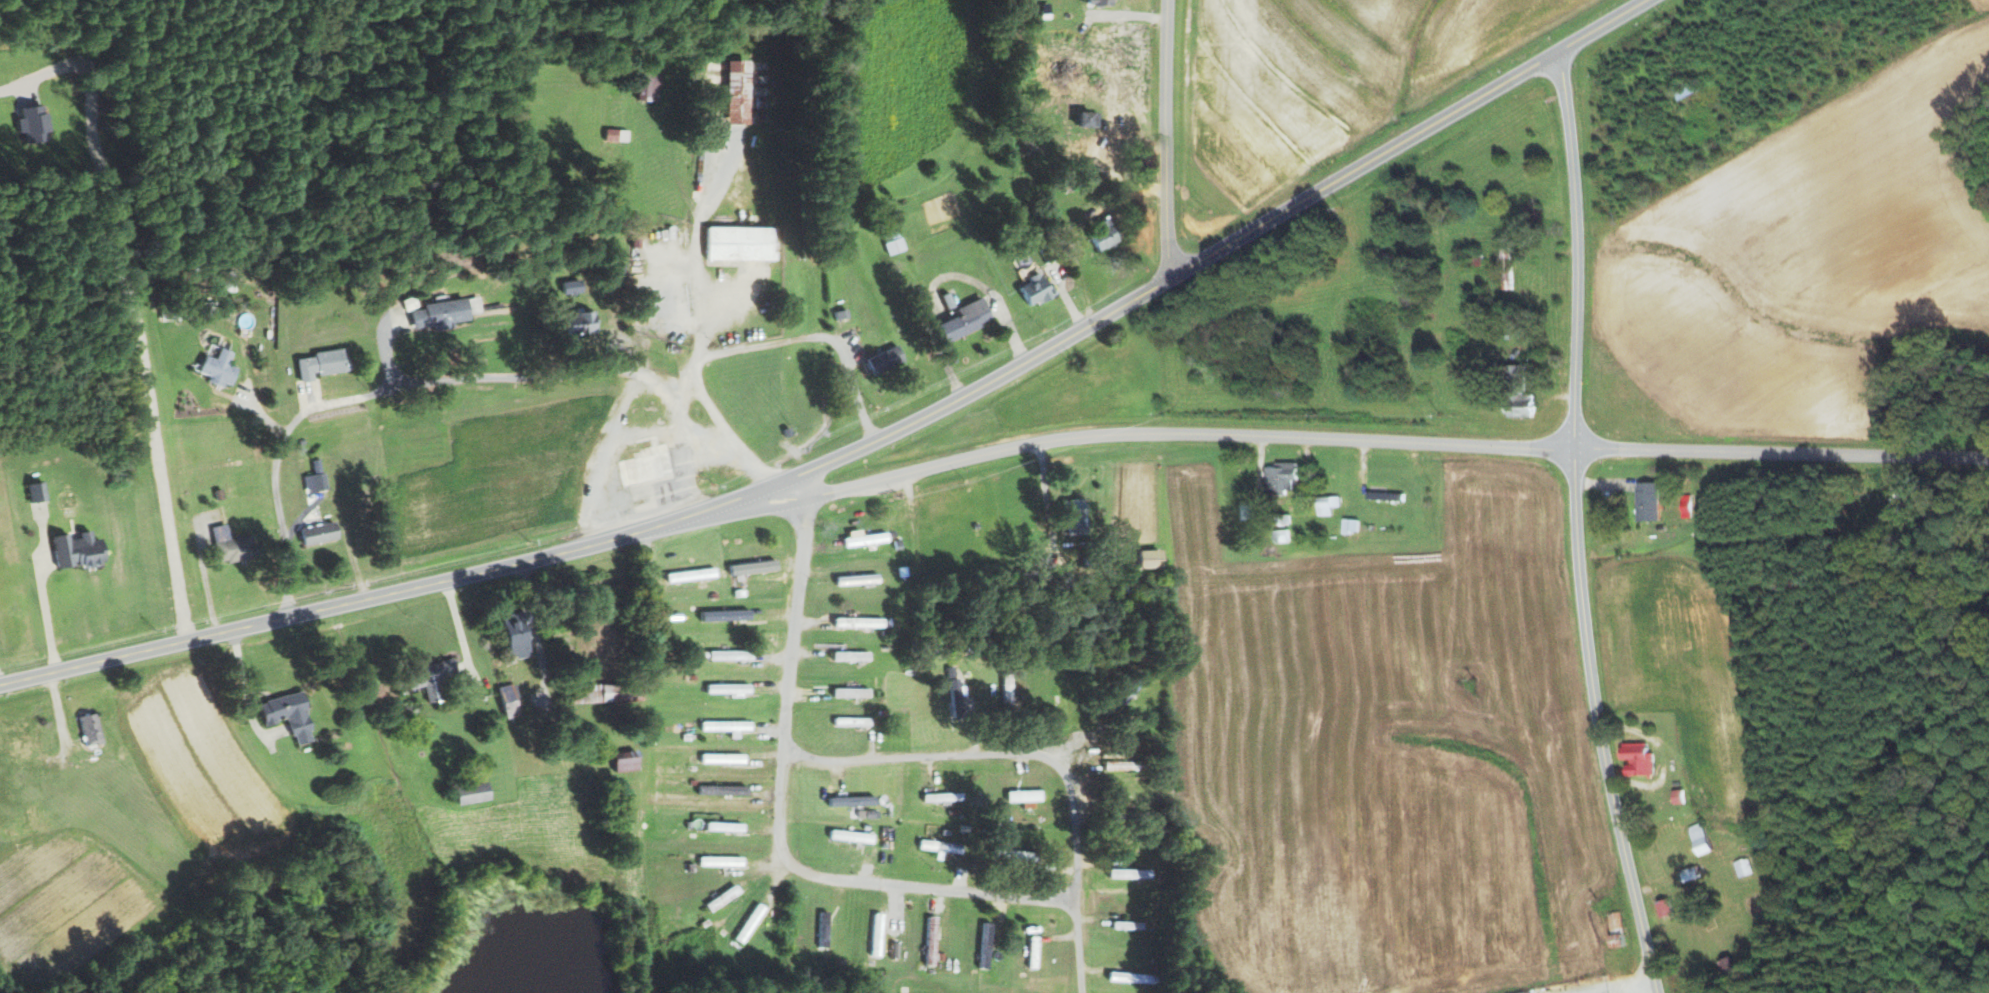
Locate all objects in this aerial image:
building: (1098, 2)
road: (1605, 26)
building: (648, 85)
building: (736, 91)
building: (1685, 91)
building: (36, 124)
building: (613, 134)
road: (1167, 137)
road: (1366, 165)
building: (1099, 235)
building: (890, 241)
building: (734, 243)
building: (1505, 268)
building: (566, 286)
building: (443, 312)
building: (959, 319)
building: (577, 323)
road: (803, 335)
building: (881, 359)
building: (315, 364)
building: (221, 368)
road: (449, 382)
building: (1515, 393)
road: (1376, 442)
building: (1276, 478)
building: (312, 482)
building: (40, 492)
building: (1645, 501)
building: (1325, 505)
building: (1071, 513)
building: (1350, 526)
road: (1579, 526)
building: (313, 533)
building: (1280, 536)
road: (607, 537)
building: (862, 539)
building: (235, 545)
building: (82, 551)
building: (1143, 559)
building: (749, 567)
building: (688, 575)
road: (204, 578)
building: (853, 579)
road: (43, 594)
building: (854, 622)
road: (458, 629)
building: (508, 637)
building: (725, 655)
building: (848, 656)
building: (423, 675)
building: (726, 689)
road: (240, 693)
building: (848, 693)
building: (596, 694)
building: (959, 697)
building: (506, 700)
building: (283, 715)
building: (848, 722)
building: (722, 726)
building: (94, 730)
building: (24, 745)
road: (992, 753)
building: (719, 758)
building: (1635, 759)
building: (619, 761)
building: (717, 790)
building: (462, 793)
building: (1019, 796)
building: (937, 797)
building: (1677, 797)
building: (846, 801)
building: (862, 814)
building: (17, 819)
road: (777, 825)
building: (721, 827)
building: (848, 836)
building: (1697, 839)
building: (935, 847)
building: (1007, 855)
building: (716, 861)
building: (1741, 867)
building: (1662, 908)
building: (746, 924)
building: (820, 928)
building: (1614, 930)
building: (874, 935)
building: (928, 941)
building: (982, 945)
road: (1078, 948)

